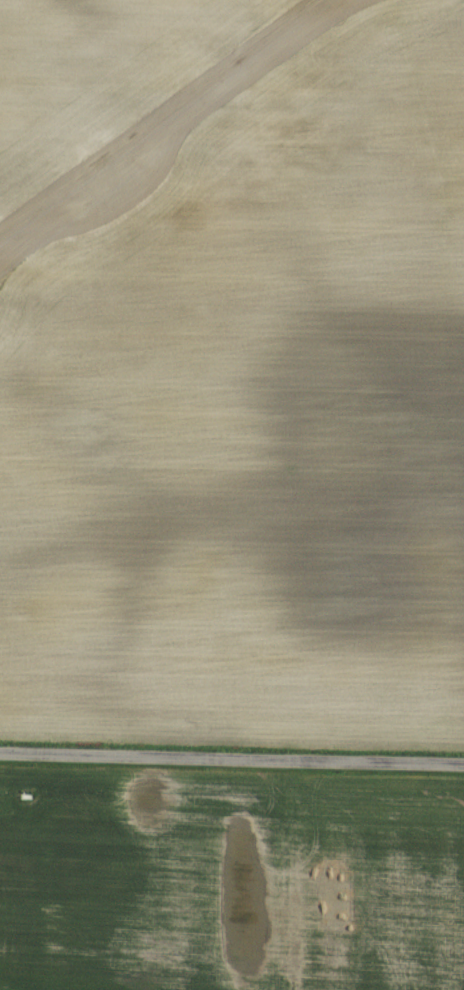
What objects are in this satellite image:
road: (231, 760)

